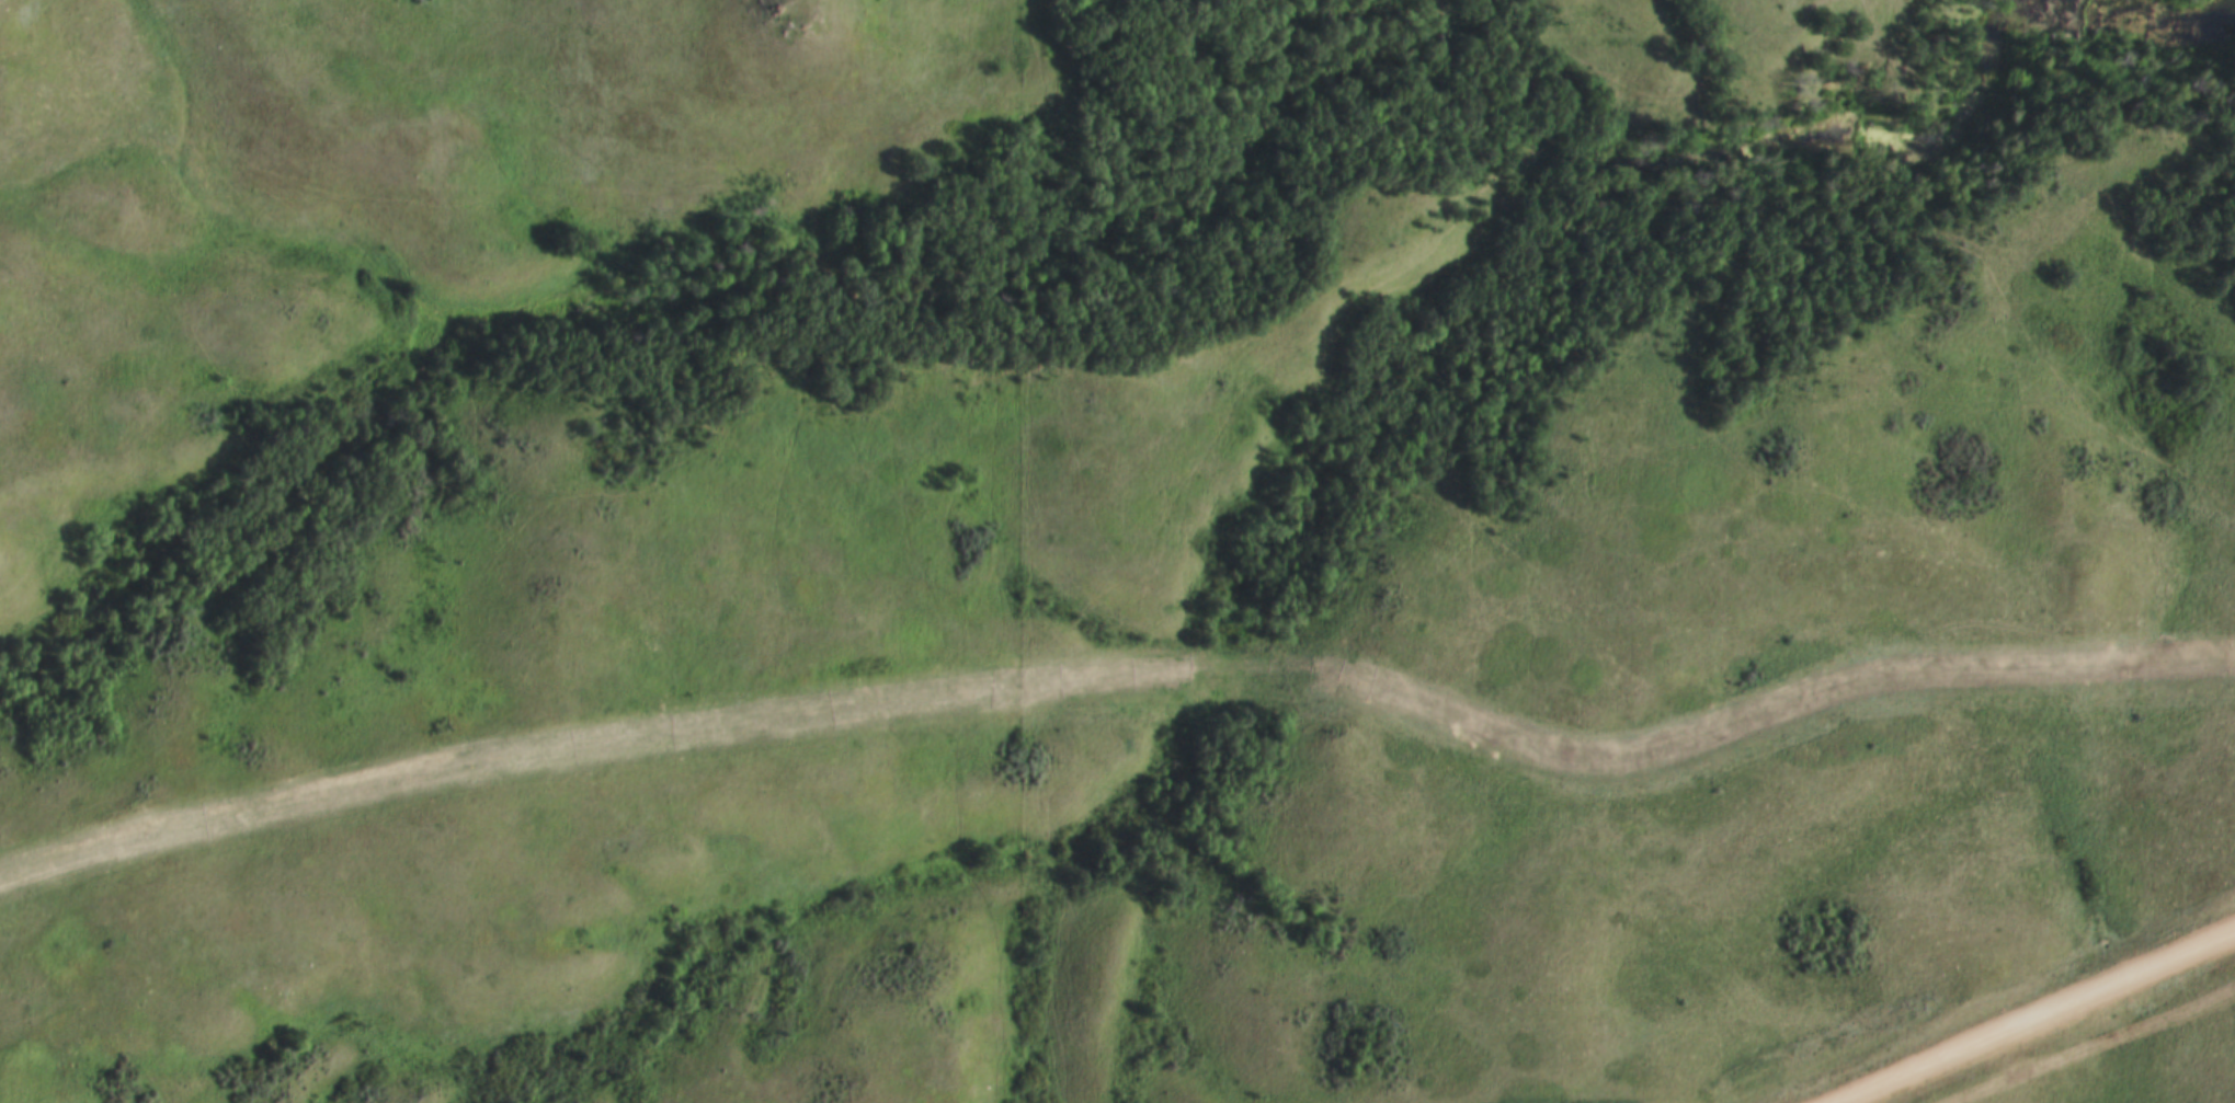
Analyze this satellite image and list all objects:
road: (2021, 1012)

